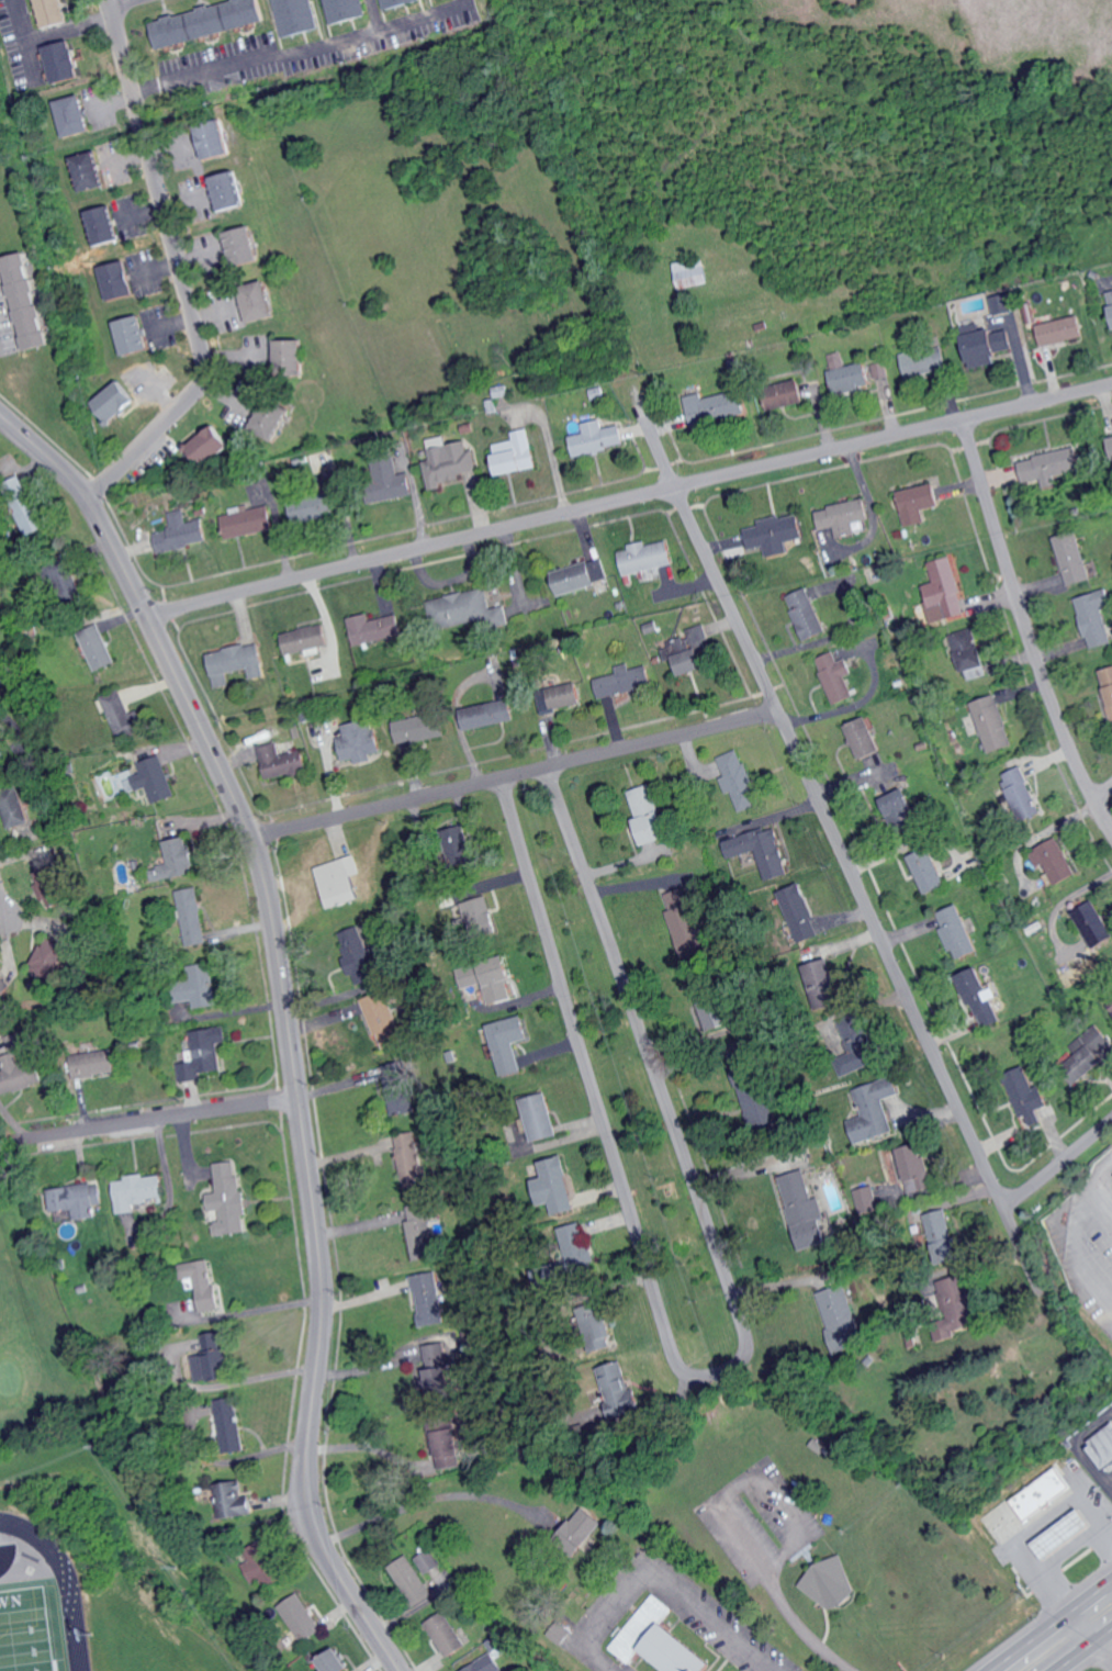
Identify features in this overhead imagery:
road: (112, 0)
building: (396, 2)
building: (345, 9)
building: (53, 12)
building: (295, 15)
road: (378, 18)
building: (210, 21)
road: (302, 59)
building: (63, 60)
building: (72, 115)
building: (216, 139)
building: (88, 170)
building: (229, 190)
building: (103, 225)
building: (245, 245)
building: (694, 271)
road: (183, 273)
building: (117, 280)
building: (26, 301)
building: (260, 301)
building: (1110, 301)
building: (1003, 303)
building: (1031, 314)
building: (1062, 330)
building: (133, 335)
building: (989, 347)
building: (292, 356)
building: (924, 361)
building: (880, 369)
building: (849, 373)
building: (788, 393)
building: (116, 401)
building: (717, 407)
building: (272, 419)
building: (1111, 436)
building: (598, 438)
building: (212, 445)
road: (552, 446)
building: (517, 452)
building: (447, 461)
building: (1049, 464)
building: (391, 479)
road: (626, 495)
building: (920, 503)
building: (25, 505)
building: (313, 507)
building: (844, 516)
building: (247, 520)
building: (180, 531)
building: (777, 534)
building: (648, 557)
building: (1075, 558)
building: (836, 561)
building: (582, 575)
building: (946, 588)
building: (464, 606)
building: (808, 614)
building: (1096, 618)
building: (374, 628)
road: (1027, 630)
building: (305, 639)
building: (97, 647)
building: (692, 649)
building: (968, 649)
building: (236, 662)
building: (836, 676)
building: (625, 681)
building: (1108, 686)
building: (563, 699)
building: (488, 714)
building: (123, 715)
building: (992, 724)
building: (418, 728)
building: (865, 738)
building: (359, 740)
building: (4, 747)
building: (281, 762)
road: (509, 778)
building: (739, 778)
building: (150, 780)
building: (1021, 794)
road: (1103, 794)
building: (901, 807)
building: (650, 815)
building: (21, 817)
road: (834, 844)
building: (459, 845)
building: (761, 850)
building: (41, 856)
building: (176, 861)
building: (1055, 861)
building: (930, 871)
building: (340, 882)
building: (52, 886)
building: (802, 912)
building: (192, 916)
building: (481, 917)
building: (684, 922)
building: (1094, 923)
road: (3, 924)
building: (959, 932)
building: (357, 956)
building: (53, 958)
building: (468, 976)
building: (497, 984)
building: (199, 987)
building: (832, 989)
building: (984, 998)
building: (712, 1005)
building: (1111, 1011)
building: (382, 1020)
road: (281, 1024)
building: (863, 1041)
building: (508, 1043)
building: (204, 1054)
building: (1089, 1057)
building: (94, 1064)
building: (16, 1074)
building: (397, 1085)
building: (1030, 1097)
building: (754, 1099)
building: (877, 1111)
road: (157, 1117)
building: (539, 1118)
building: (407, 1159)
road: (1058, 1166)
building: (918, 1169)
building: (554, 1187)
building: (138, 1191)
building: (869, 1199)
building: (77, 1200)
building: (231, 1200)
building: (804, 1210)
road: (1067, 1230)
building: (420, 1233)
building: (942, 1234)
building: (575, 1244)
building: (204, 1283)
building: (426, 1298)
building: (961, 1304)
road: (250, 1309)
building: (841, 1317)
building: (604, 1331)
building: (211, 1357)
park: (32, 1362)
building: (439, 1362)
road: (715, 1373)
building: (618, 1388)
building: (229, 1424)
road: (359, 1447)
building: (448, 1447)
building: (1102, 1447)
road: (424, 1496)
building: (233, 1501)
building: (1037, 1506)
road: (1091, 1521)
building: (582, 1529)
building: (1056, 1532)
road: (1057, 1533)
building: (260, 1565)
building: (433, 1571)
road: (1040, 1572)
road: (658, 1574)
building: (409, 1580)
building: (831, 1583)
track: (79, 1595)
building: (301, 1617)
road: (1046, 1622)
park: (29, 1629)
building: (446, 1634)
road: (1082, 1639)
building: (656, 1640)
road: (1087, 1652)
building: (334, 1661)
building: (482, 1664)
road: (772, 1668)

